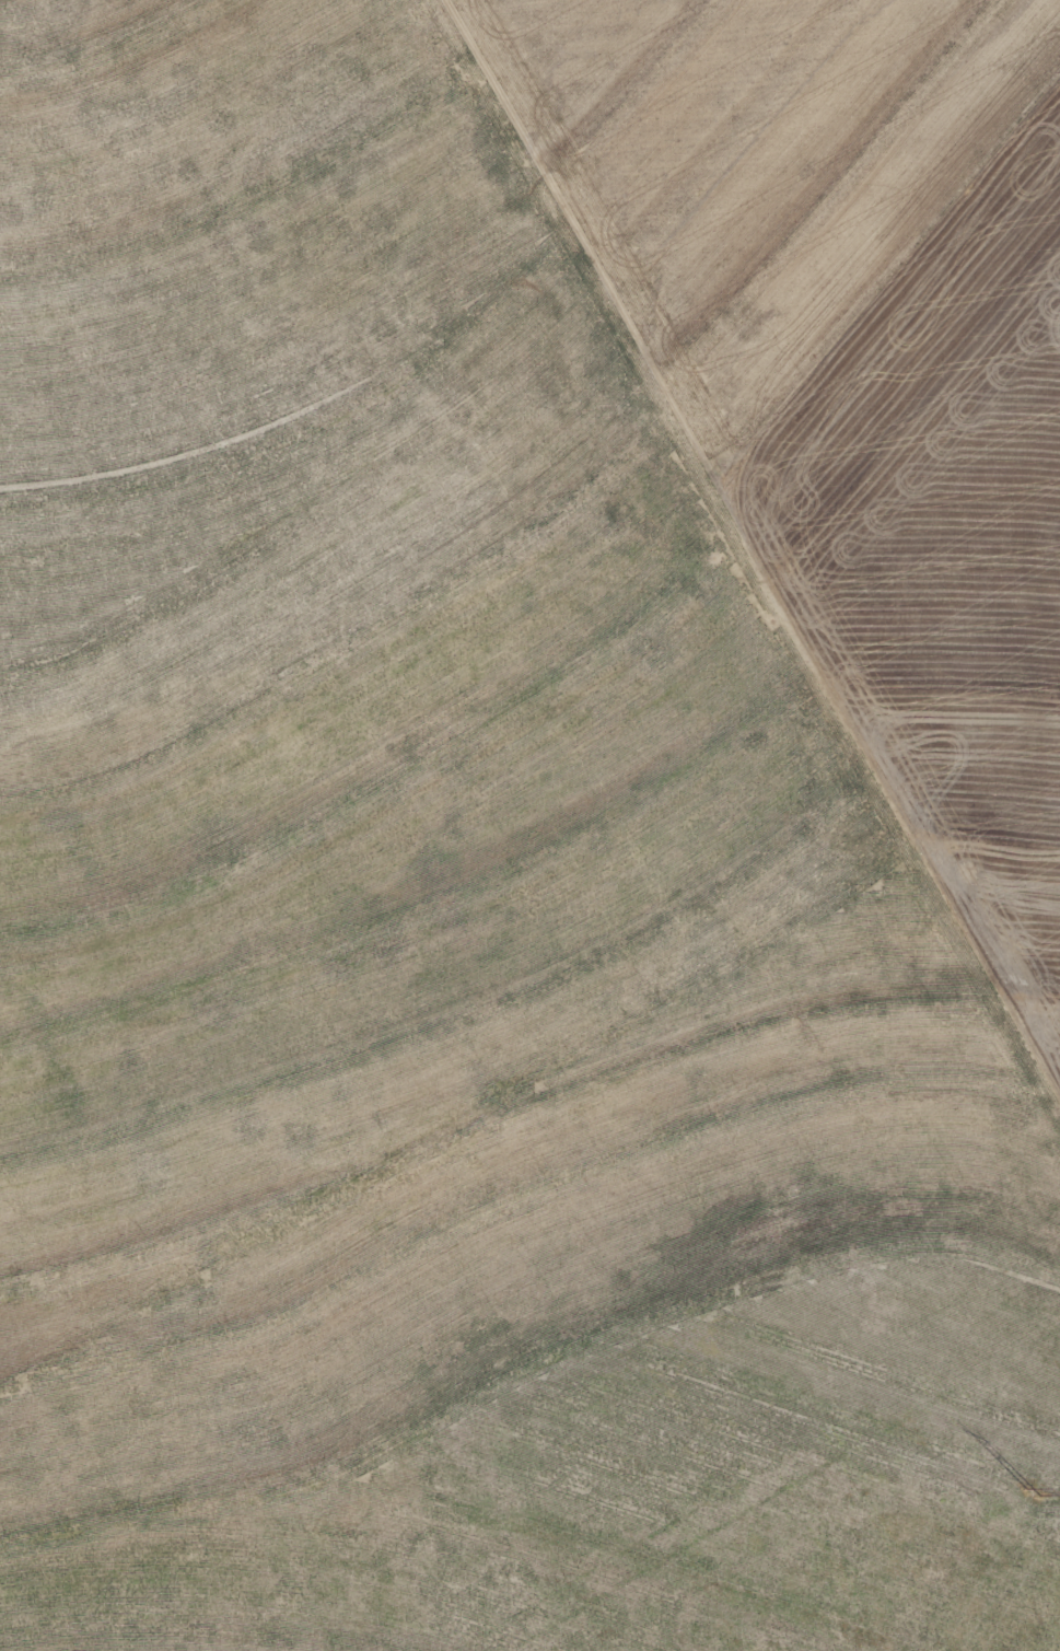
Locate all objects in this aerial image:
power tower: (1033, 1495)

